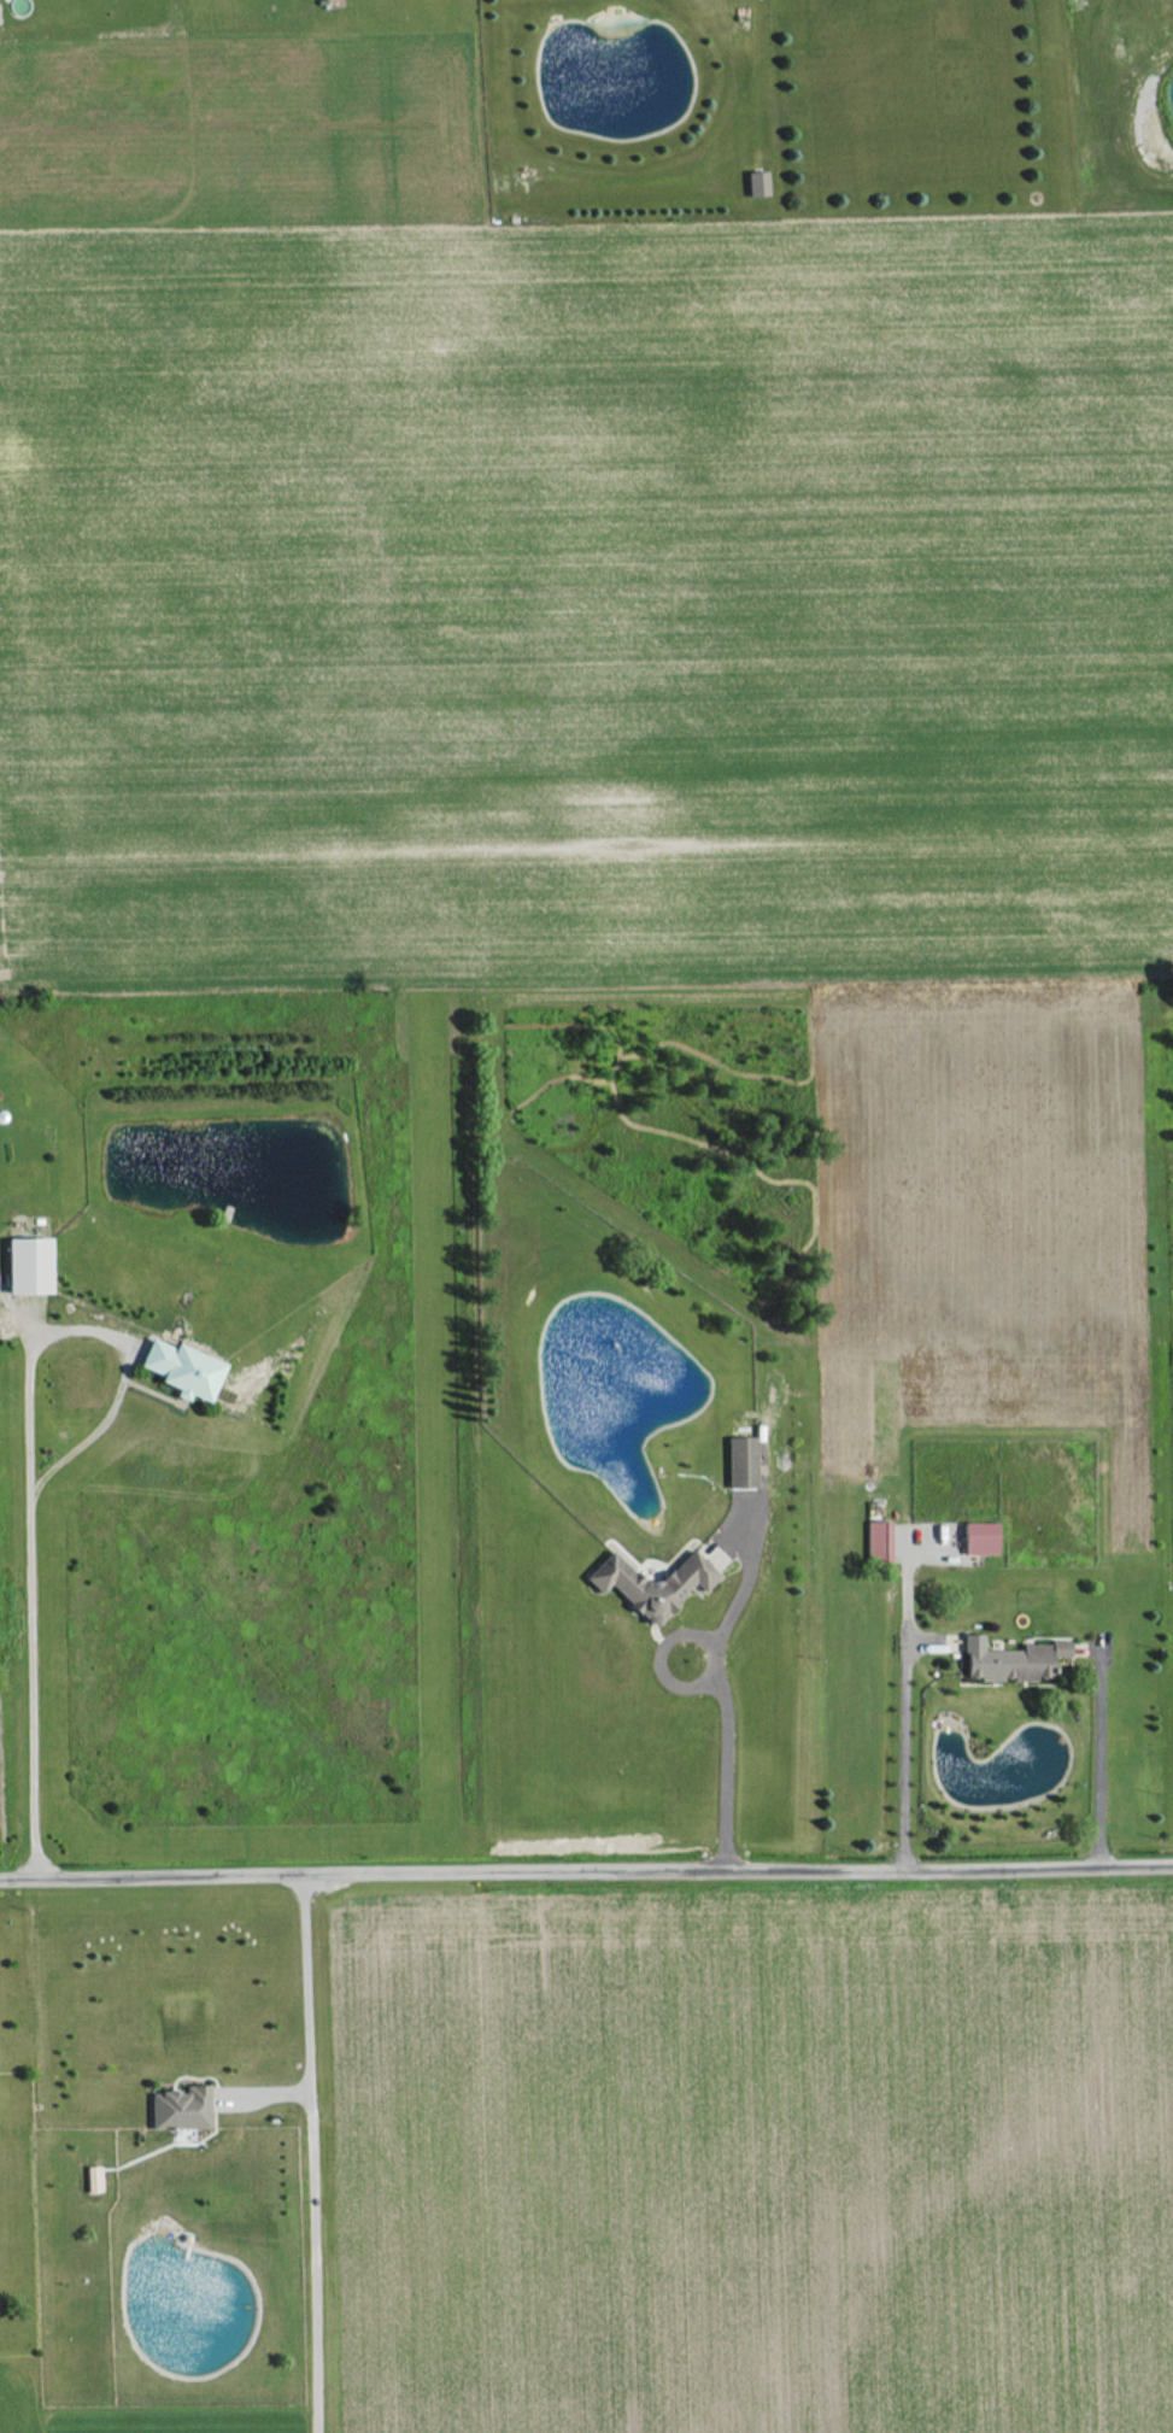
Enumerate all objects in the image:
building: (757, 182)
crop: (590, 600)
building: (29, 1265)
building: (182, 1368)
building: (741, 1462)
road: (30, 1465)
building: (981, 1538)
building: (876, 1540)
building: (711, 1560)
building: (652, 1589)
building: (1010, 1660)
road: (728, 1749)
road: (1103, 1753)
road: (908, 1757)
road: (586, 1869)
building: (177, 2109)
road: (307, 2153)
building: (92, 2179)

